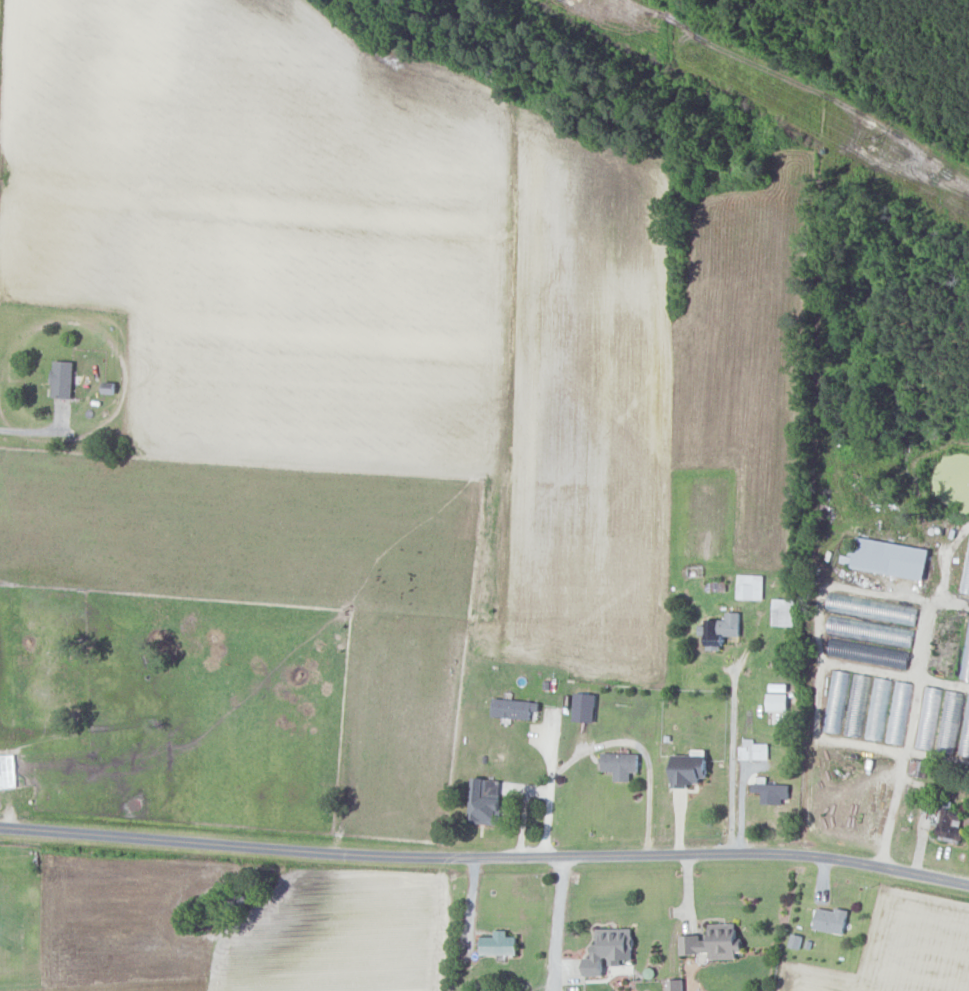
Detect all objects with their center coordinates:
power tower: (876, 144)
building: (63, 379)
building: (891, 558)
building: (966, 579)
building: (751, 587)
road: (950, 603)
building: (787, 608)
building: (721, 630)
building: (837, 701)
building: (778, 702)
building: (514, 707)
building: (585, 707)
road: (913, 718)
building: (928, 718)
road: (607, 742)
building: (754, 750)
road: (732, 761)
building: (621, 764)
building: (690, 768)
building: (7, 770)
building: (772, 790)
building: (486, 800)
road: (743, 804)
road: (524, 815)
building: (954, 824)
road: (485, 859)
road: (558, 919)
building: (831, 919)
building: (715, 942)
building: (499, 943)
building: (610, 949)
building: (675, 984)

